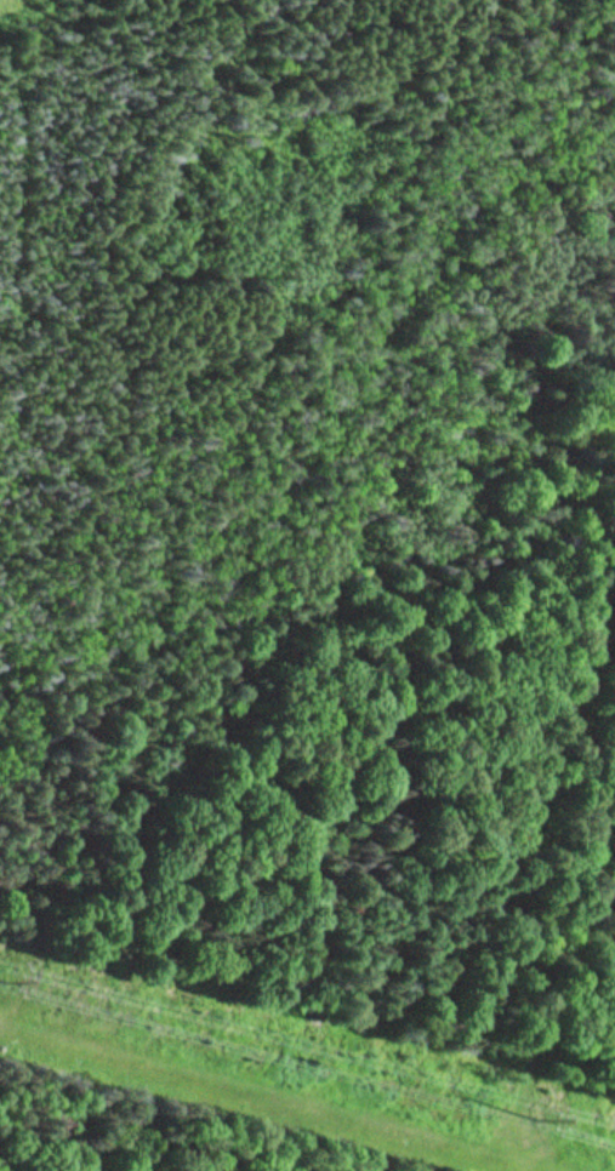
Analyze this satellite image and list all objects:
power tower: (1, 981)
power tower: (540, 1115)

